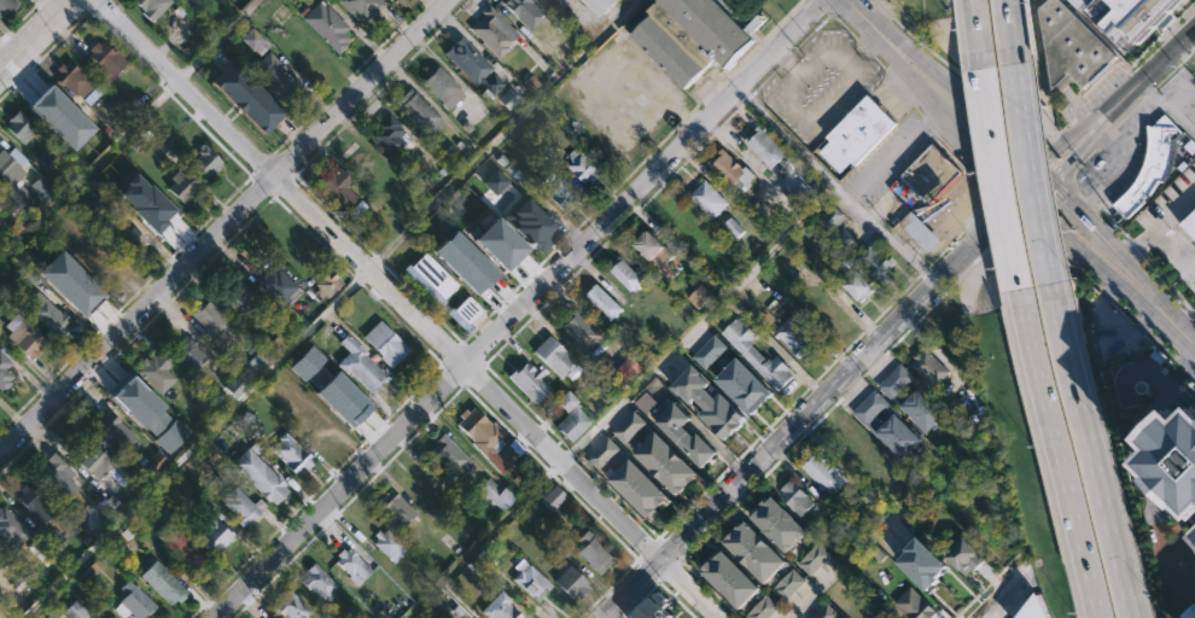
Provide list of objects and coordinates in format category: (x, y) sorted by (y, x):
road: (466, 1)
parking lot: (741, 1)
road: (83, 4)
building: (601, 5)
building: (7, 6)
road: (89, 6)
building: (519, 6)
building: (152, 7)
building: (362, 7)
road: (820, 7)
building: (1137, 17)
road: (21, 21)
road: (867, 23)
building: (327, 25)
road: (843, 27)
building: (491, 30)
road: (600, 30)
road: (1008, 30)
road: (977, 33)
road: (35, 36)
building: (695, 36)
road: (765, 36)
road: (214, 37)
building: (251, 40)
road: (130, 46)
building: (1069, 47)
road: (864, 48)
road: (791, 54)
building: (105, 59)
building: (468, 59)
road: (1136, 62)
road: (880, 64)
road: (1174, 66)
road: (1142, 75)
building: (273, 76)
building: (71, 80)
building: (444, 86)
road: (713, 87)
road: (899, 87)
road: (917, 87)
road: (970, 87)
road: (1149, 89)
road: (332, 93)
road: (1181, 94)
building: (249, 95)
road: (1144, 95)
building: (507, 98)
road: (745, 99)
road: (966, 99)
road: (362, 106)
road: (694, 106)
road: (1167, 106)
road: (917, 109)
road: (1074, 110)
building: (419, 112)
building: (60, 117)
road: (681, 119)
road: (1119, 121)
road: (928, 123)
building: (18, 126)
building: (861, 129)
road: (1194, 130)
building: (390, 134)
road: (1061, 140)
building: (764, 147)
road: (892, 153)
road: (956, 154)
road: (273, 156)
road: (985, 159)
building: (206, 161)
parking lot: (888, 161)
road: (1080, 163)
building: (1154, 163)
traffic signals: (1036, 164)
road: (1053, 164)
building: (12, 165)
building: (583, 165)
road: (264, 167)
road: (280, 167)
road: (1061, 167)
road: (1118, 167)
building: (730, 170)
road: (1027, 171)
building: (929, 173)
road: (252, 175)
road: (291, 175)
road: (996, 176)
traffic signals: (1051, 179)
road: (1027, 180)
building: (495, 181)
road: (264, 182)
road: (280, 182)
road: (833, 185)
building: (181, 186)
building: (338, 188)
building: (43, 190)
building: (556, 190)
road: (1078, 191)
road: (273, 193)
road: (1002, 196)
traffic signals: (1019, 196)
building: (710, 199)
road: (1048, 199)
road: (991, 200)
building: (22, 204)
road: (1091, 204)
building: (148, 206)
building: (95, 209)
road: (334, 215)
building: (834, 217)
road: (973, 220)
building: (1189, 221)
building: (530, 222)
road: (1113, 223)
road: (1159, 223)
road: (222, 226)
building: (733, 227)
building: (919, 231)
road: (1102, 233)
road: (314, 235)
building: (130, 239)
building: (497, 243)
road: (1136, 246)
building: (2, 247)
road: (945, 247)
building: (657, 253)
road: (1173, 253)
road: (1086, 255)
road: (378, 260)
building: (875, 260)
building: (464, 262)
building: (100, 263)
road: (923, 268)
road: (1079, 268)
road: (527, 274)
building: (624, 274)
road: (570, 276)
building: (429, 278)
road: (357, 280)
road: (1166, 281)
building: (328, 282)
building: (278, 285)
building: (855, 285)
building: (78, 287)
building: (240, 296)
building: (698, 297)
road: (124, 301)
building: (605, 303)
road: (515, 308)
road: (408, 309)
road: (1193, 310)
building: (48, 313)
building: (464, 313)
building: (214, 322)
road: (696, 322)
road: (310, 323)
road: (1177, 327)
road: (1190, 331)
road: (136, 333)
building: (583, 333)
building: (794, 337)
building: (27, 338)
building: (385, 344)
building: (188, 351)
road: (455, 351)
building: (709, 351)
building: (756, 354)
road: (468, 355)
building: (552, 356)
road: (442, 362)
road: (480, 363)
building: (256, 365)
building: (358, 365)
building: (5, 367)
building: (928, 367)
building: (630, 368)
road: (453, 369)
road: (468, 369)
building: (157, 371)
road: (461, 381)
building: (527, 381)
building: (336, 383)
building: (235, 385)
building: (744, 387)
building: (325, 393)
building: (645, 400)
building: (913, 400)
building: (707, 403)
road: (810, 407)
building: (150, 414)
road: (822, 414)
building: (569, 416)
building: (888, 426)
building: (628, 427)
building: (113, 431)
building: (682, 435)
building: (489, 439)
road: (750, 443)
road: (1090, 449)
road: (352, 451)
road: (1057, 453)
building: (291, 454)
road: (572, 454)
building: (602, 454)
building: (1174, 454)
road: (387, 459)
building: (453, 459)
building: (153, 462)
building: (101, 463)
building: (665, 465)
building: (524, 466)
road: (549, 471)
building: (823, 472)
building: (258, 476)
road: (1139, 477)
building: (56, 479)
building: (637, 490)
building: (497, 494)
building: (553, 496)
building: (795, 497)
building: (37, 505)
building: (243, 506)
building: (397, 509)
building: (777, 525)
building: (11, 527)
building: (1194, 530)
building: (991, 531)
building: (215, 532)
road: (657, 537)
building: (54, 538)
road: (483, 538)
road: (623, 544)
building: (387, 546)
building: (185, 548)
road: (648, 549)
road: (668, 549)
building: (595, 552)
building: (756, 553)
building: (963, 556)
road: (636, 559)
road: (680, 559)
building: (812, 559)
building: (928, 559)
building: (351, 565)
road: (836, 566)
road: (648, 569)
road: (668, 569)
building: (919, 573)
road: (657, 581)
building: (729, 581)
building: (319, 582)
building: (570, 582)
building: (164, 583)
building: (530, 583)
building: (787, 585)
road: (989, 587)
road: (1004, 593)
road: (1014, 599)
building: (133, 602)
building: (913, 605)
building: (290, 607)
building: (499, 607)
building: (762, 608)
building: (1037, 610)
building: (76, 611)
building: (826, 612)
building: (1190, 613)
building: (53, 614)
building: (112, 617)

